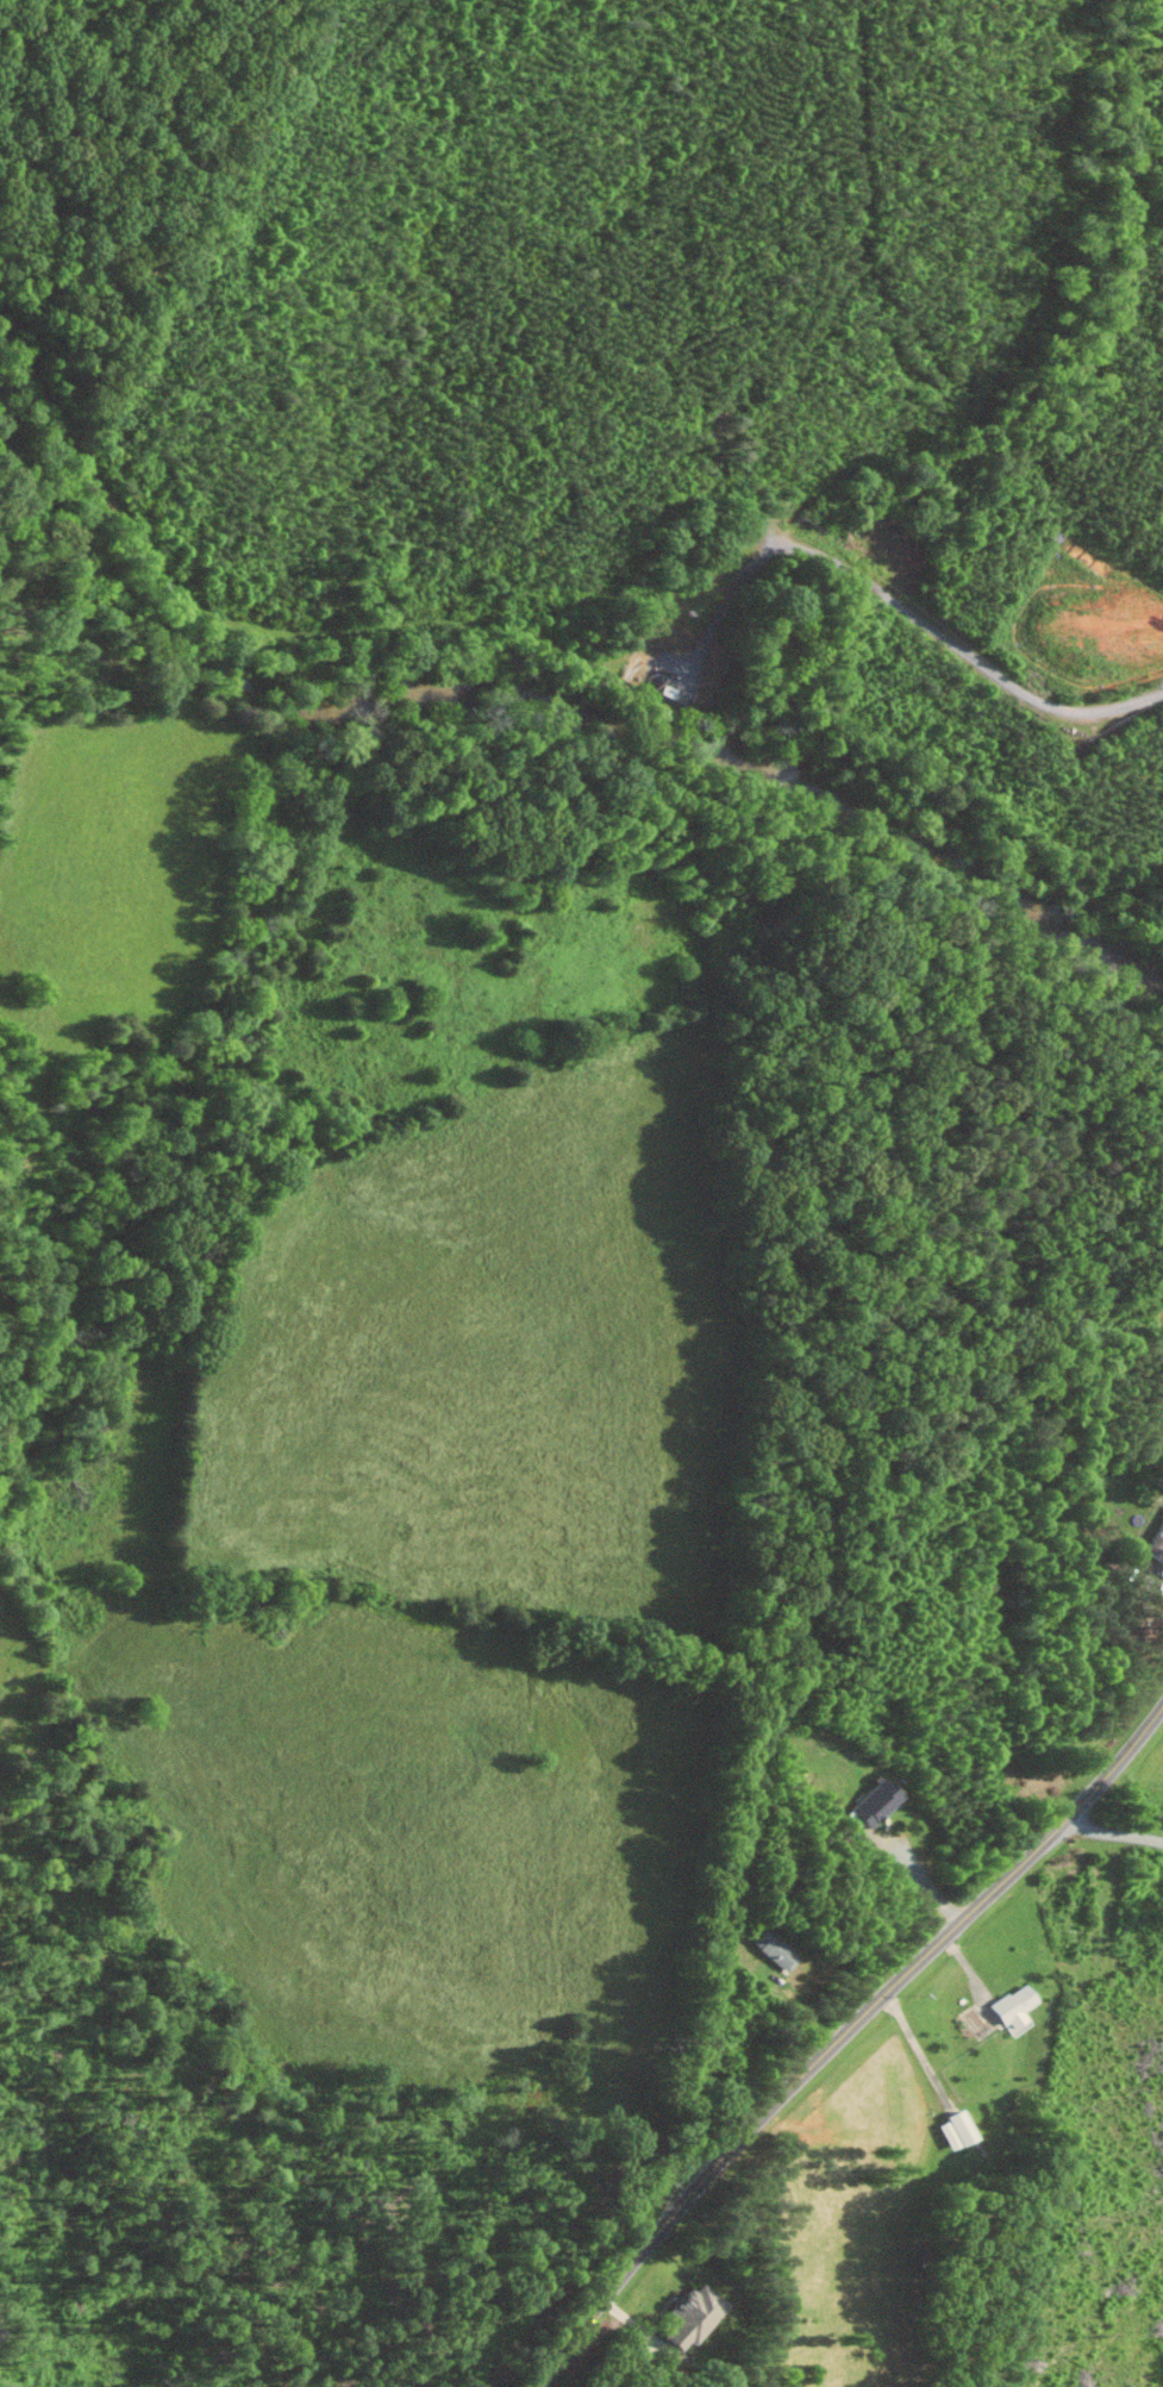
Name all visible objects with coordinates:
road: (911, 614)
road: (1138, 1538)
building: (1156, 1542)
building: (869, 1804)
road: (1112, 1822)
road: (920, 1879)
building: (773, 1950)
road: (845, 2037)
road: (920, 2052)
building: (953, 2130)
building: (688, 2316)

